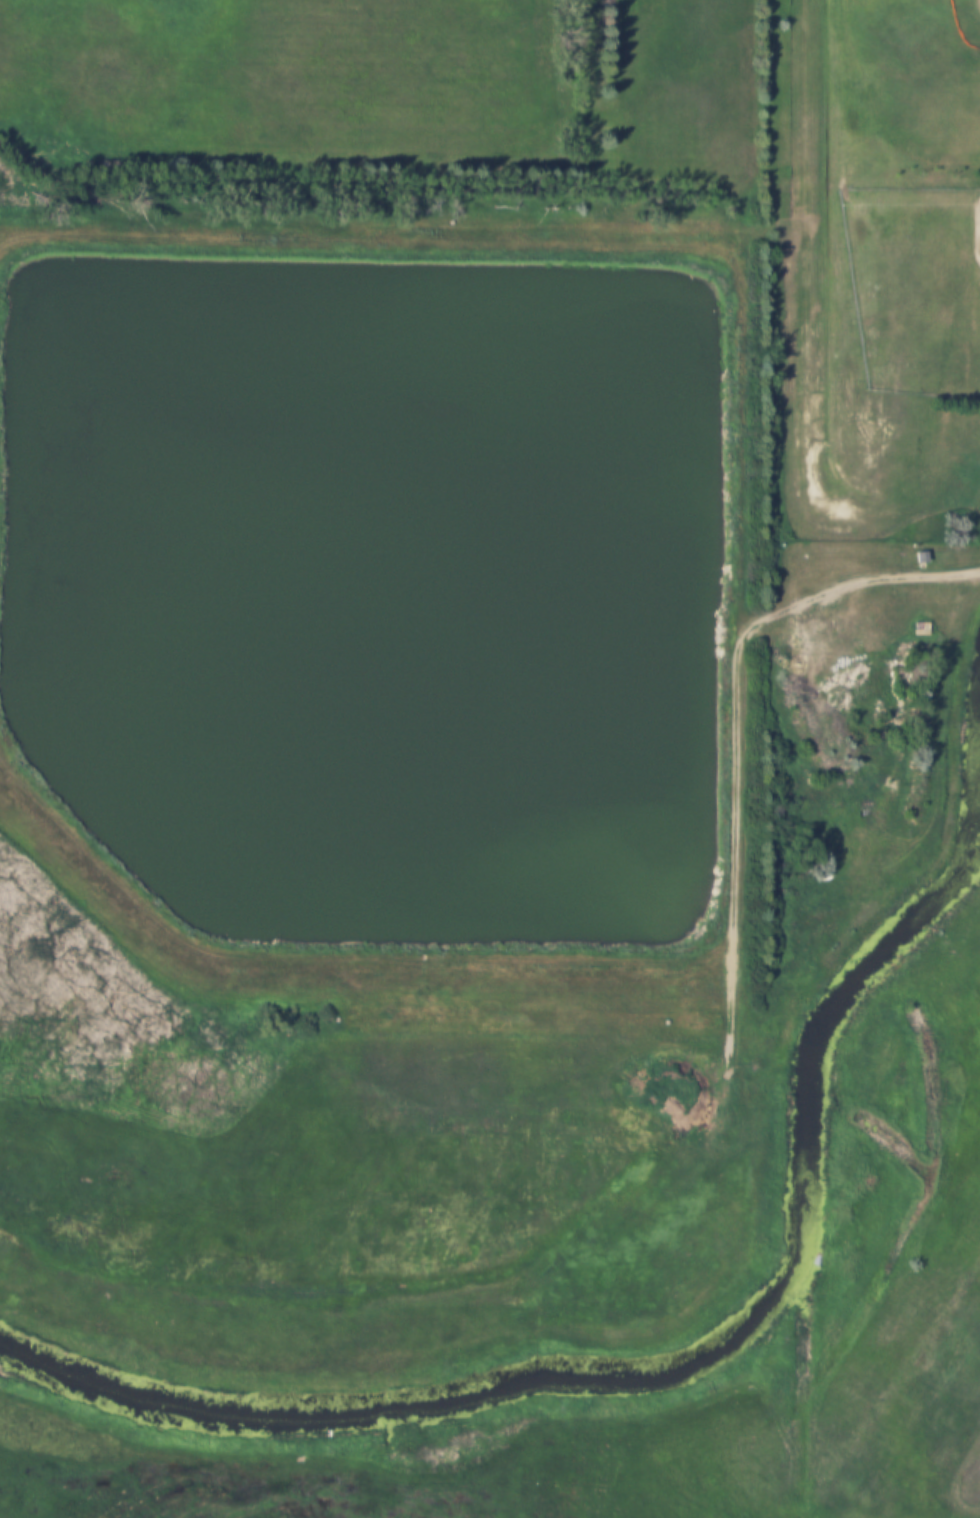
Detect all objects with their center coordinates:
park: (922, 68)
road: (807, 128)
park: (917, 289)
building: (918, 556)
road: (857, 574)
building: (919, 628)
building: (924, 631)
road: (941, 703)
quarry: (961, 1482)

